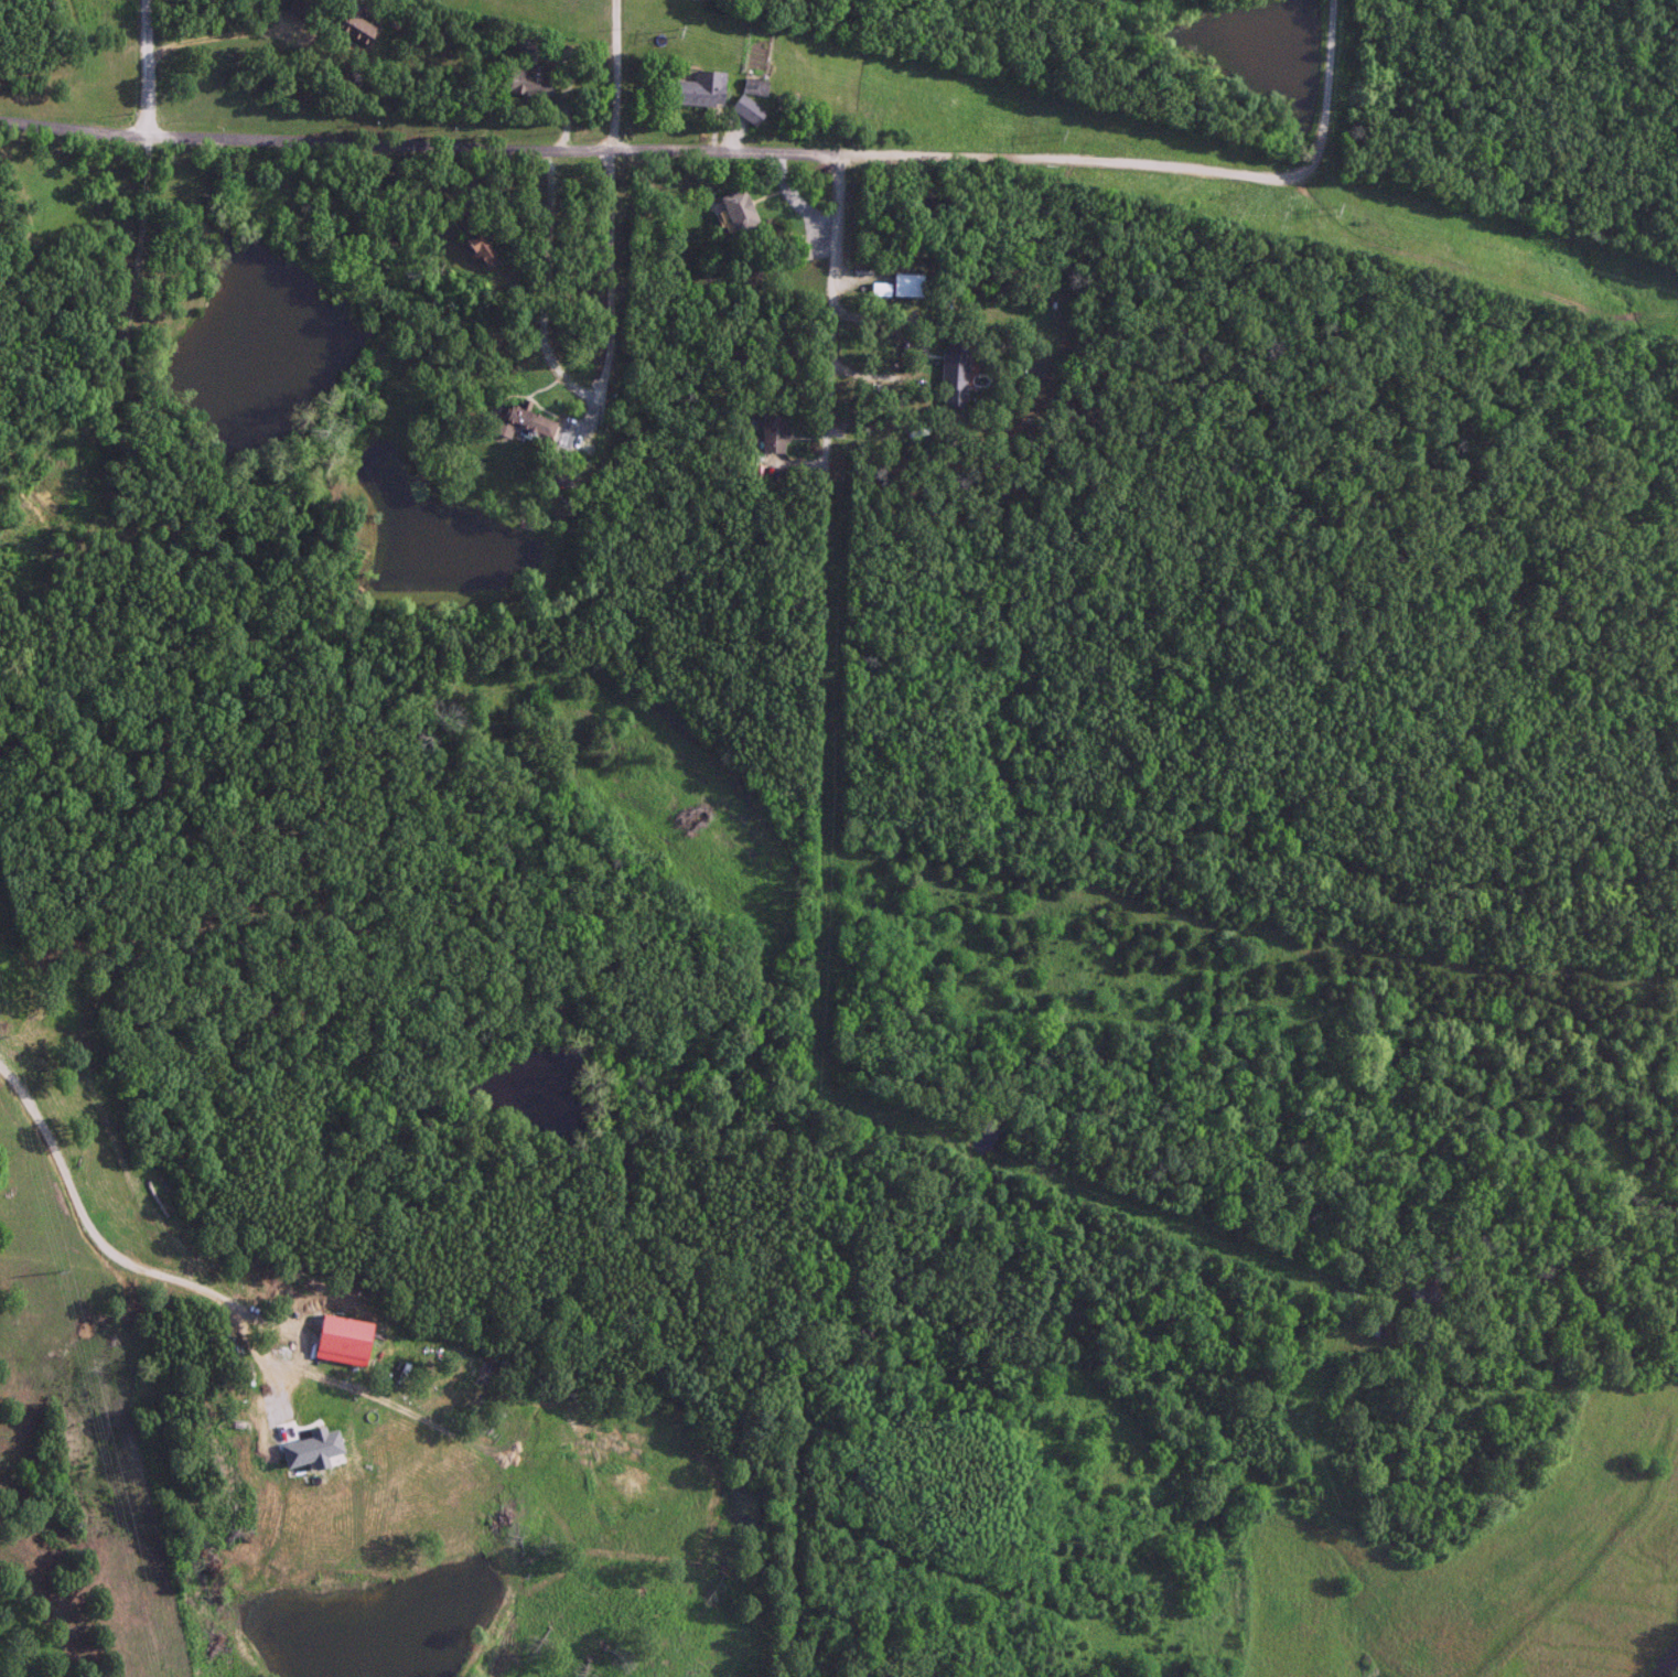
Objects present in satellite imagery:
building: (297, 7)
building: (354, 26)
power tower: (668, 29)
road: (233, 32)
building: (529, 78)
building: (753, 84)
building: (699, 87)
building: (745, 107)
power tower: (1048, 131)
road: (747, 149)
power tower: (1321, 197)
road: (144, 206)
building: (736, 208)
building: (460, 218)
building: (797, 246)
building: (478, 248)
building: (905, 283)
road: (607, 340)
building: (953, 361)
building: (524, 419)
building: (772, 432)
road: (796, 464)
building: (222, 569)
road: (820, 926)
power tower: (45, 1273)
building: (1420, 1293)

